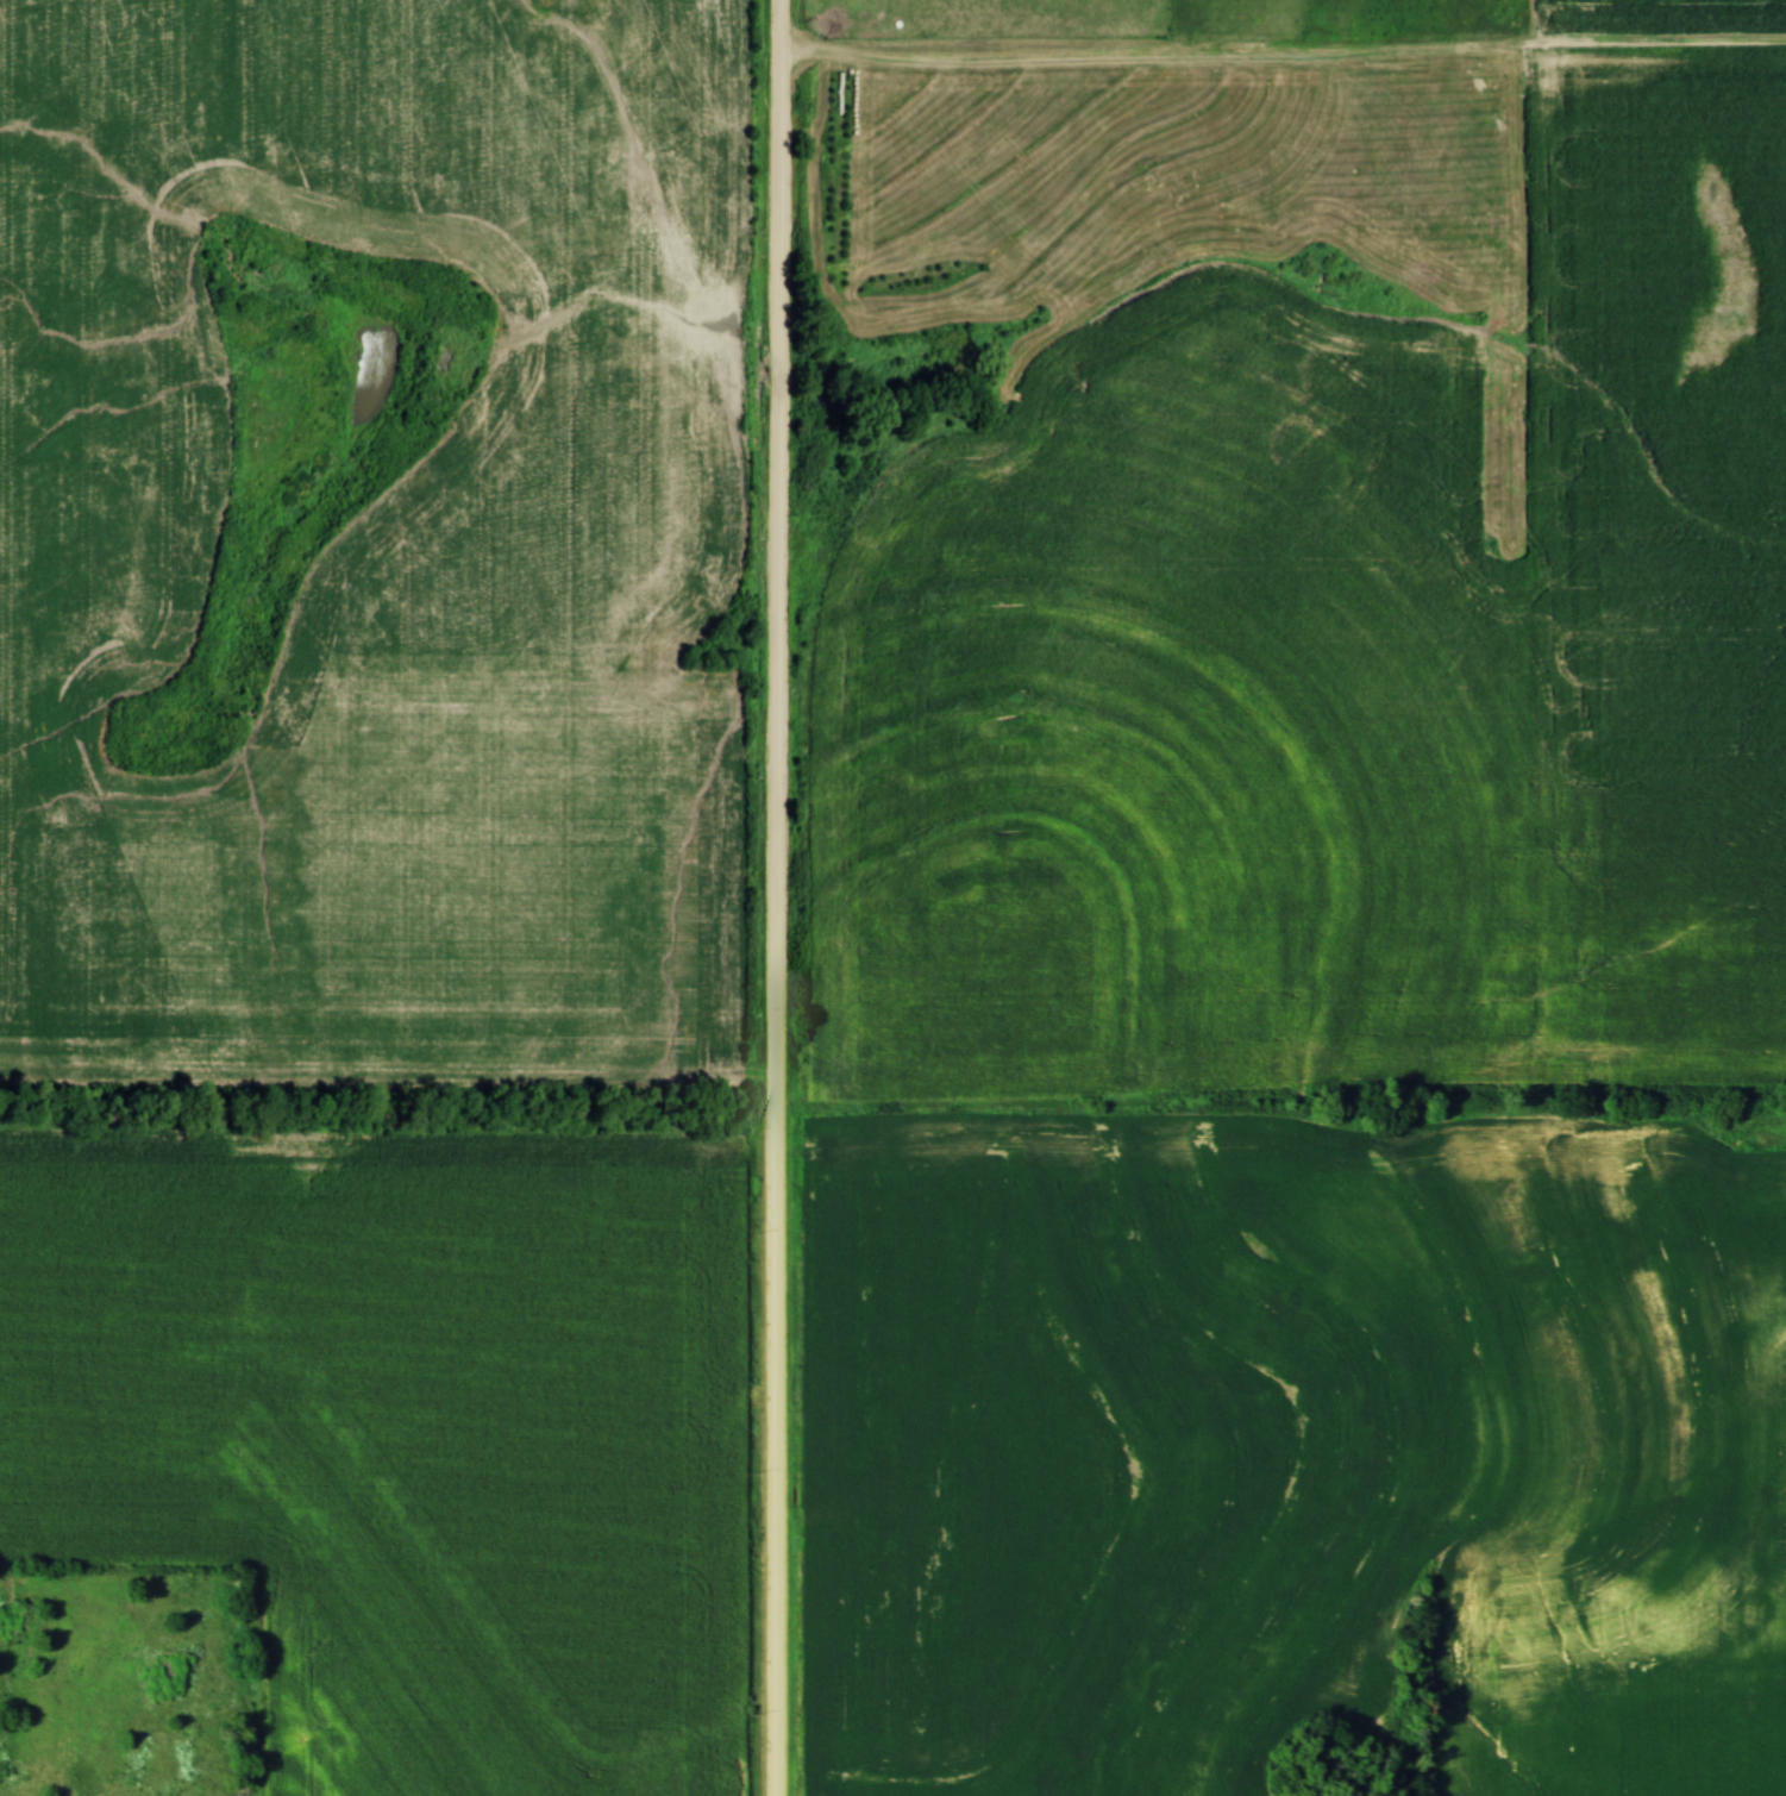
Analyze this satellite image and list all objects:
road: (778, 897)

